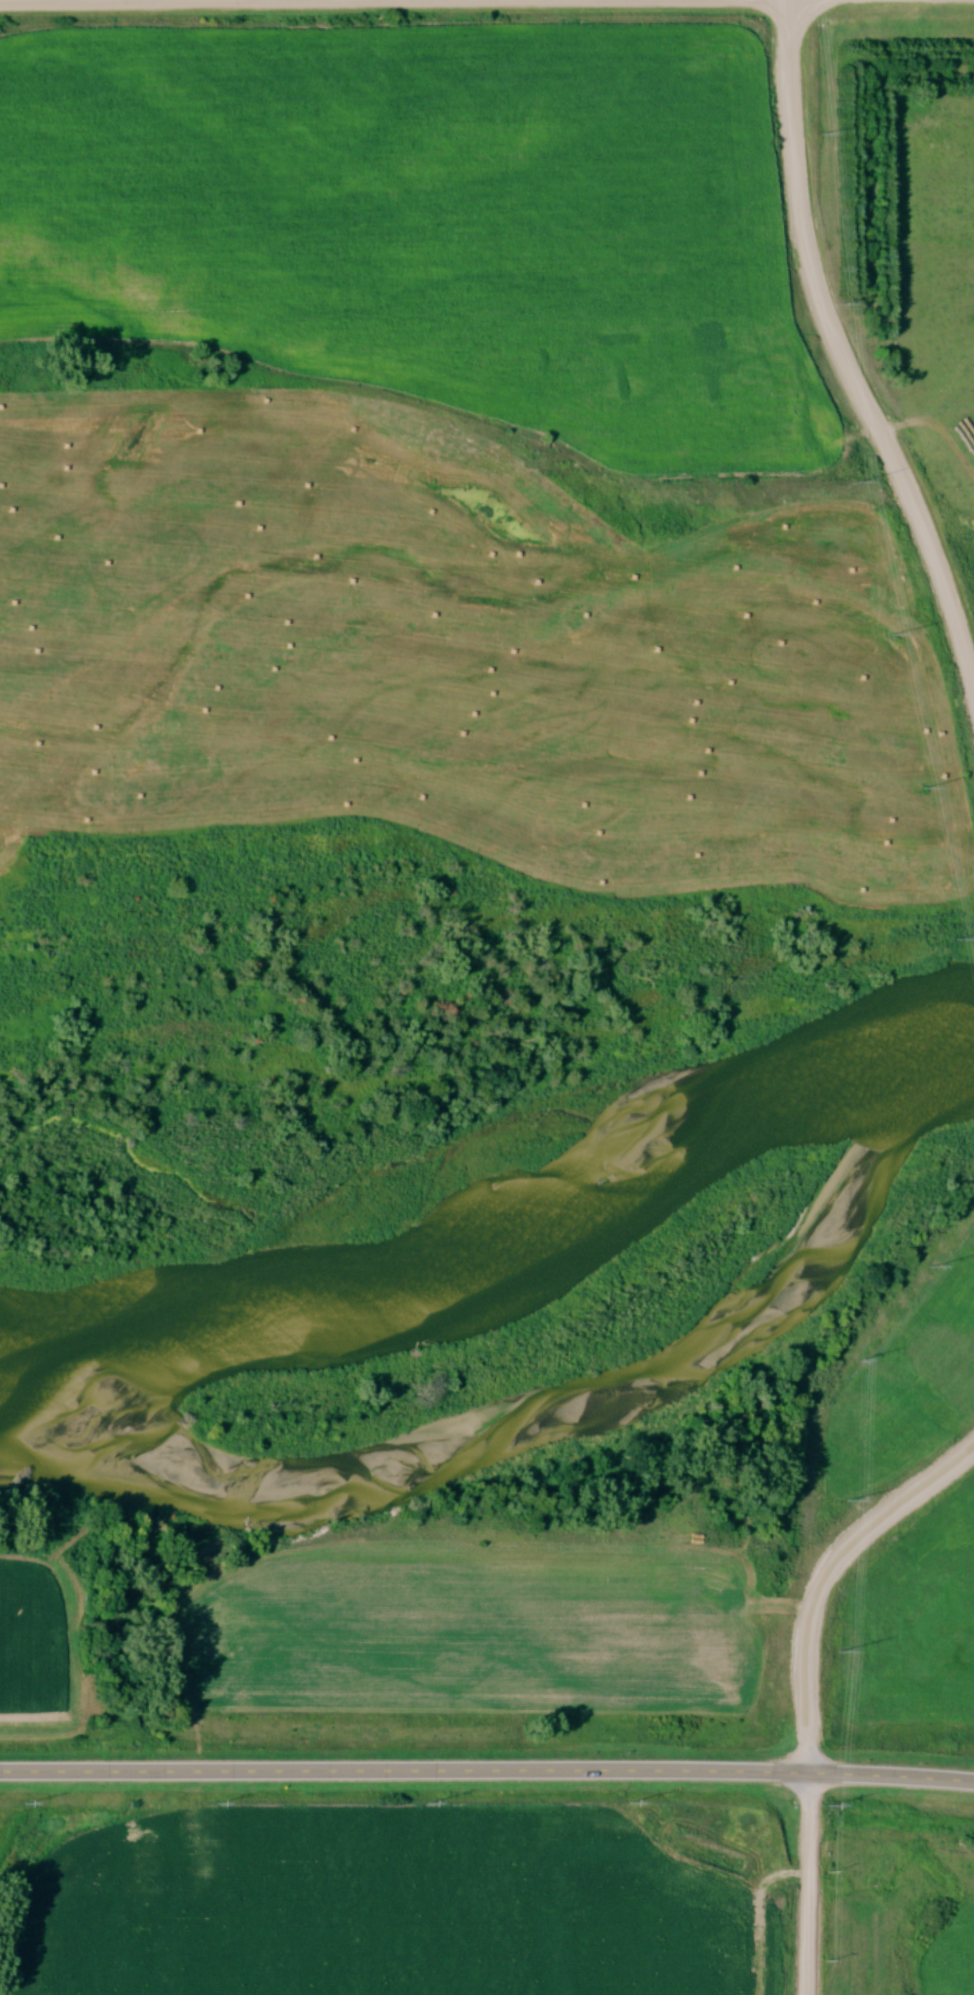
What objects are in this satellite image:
road: (99, 0)
road: (843, 351)
river: (519, 1422)
road: (828, 1579)
road: (487, 1769)
road: (813, 1883)

